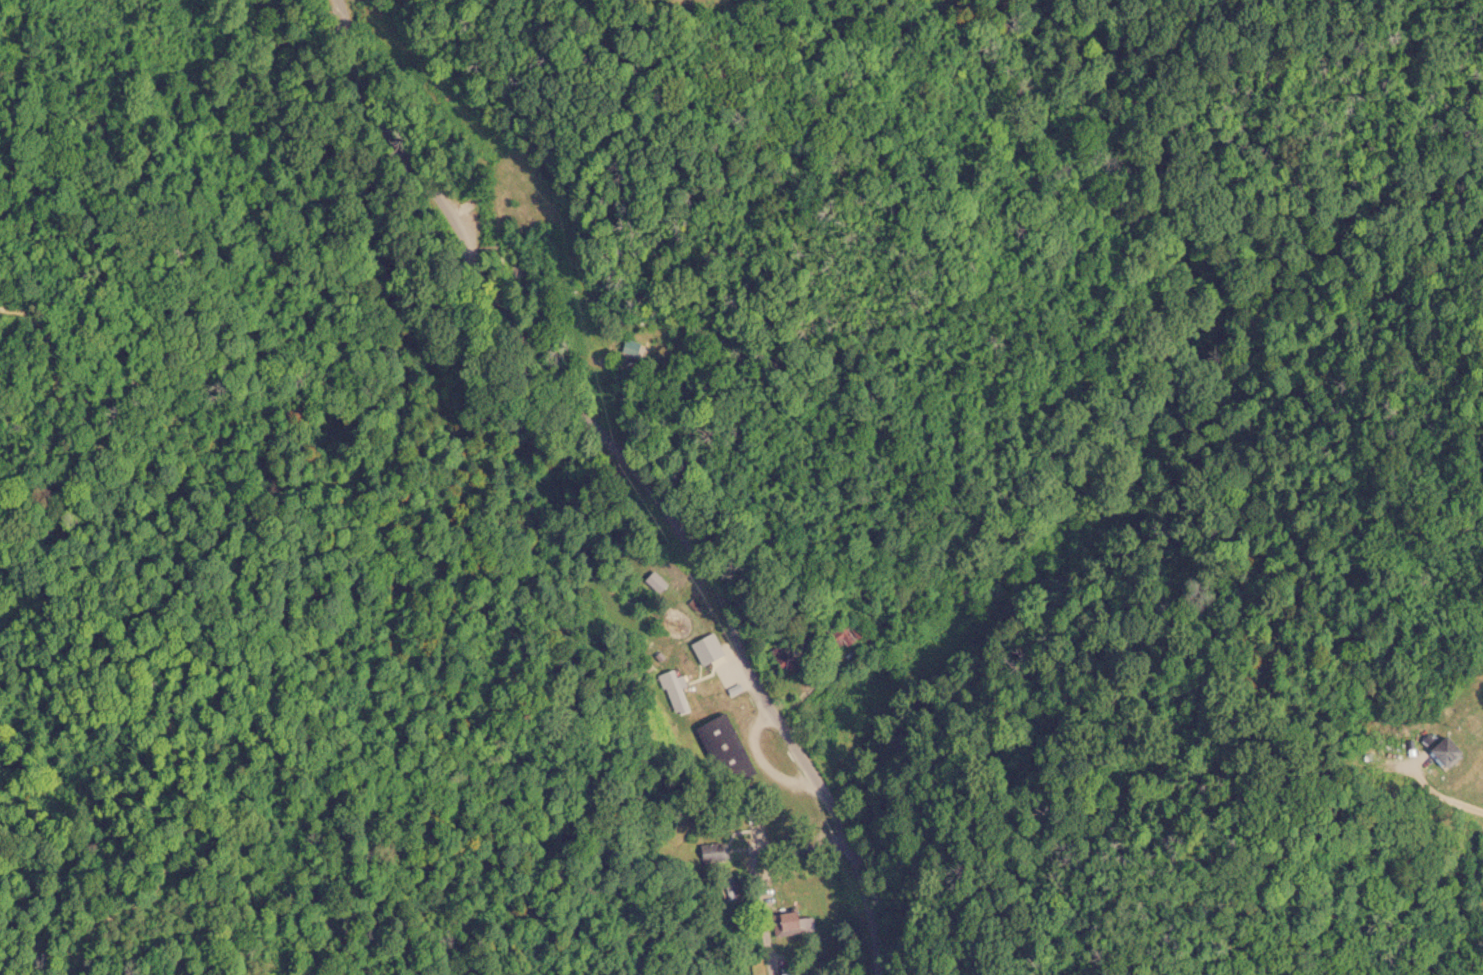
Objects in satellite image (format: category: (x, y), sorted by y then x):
road: (345, 23)
building: (625, 346)
road: (615, 415)
road: (845, 609)
building: (843, 630)
building: (704, 648)
building: (658, 652)
building: (674, 690)
building: (722, 748)
building: (1441, 750)
building: (713, 851)
road: (868, 889)
road: (762, 912)
building: (791, 923)
building: (787, 971)

